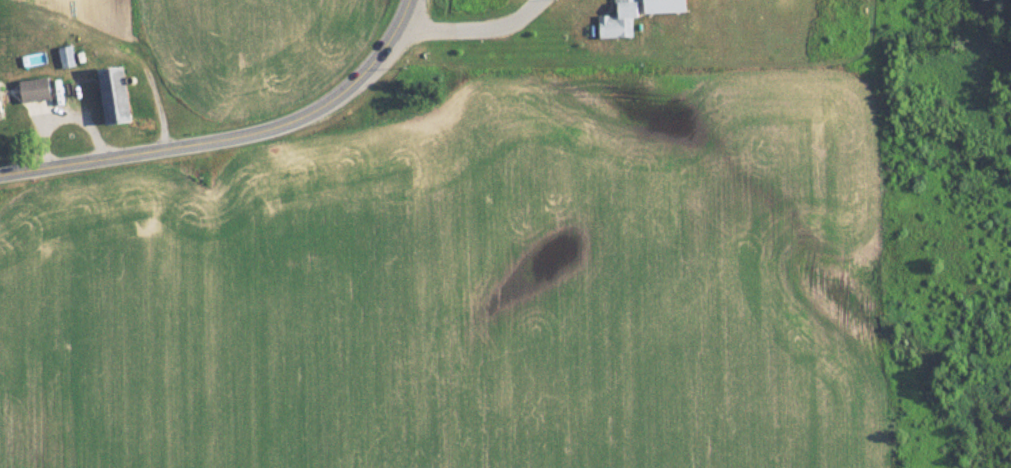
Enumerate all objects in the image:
road: (473, 28)
building: (69, 56)
building: (39, 90)
building: (121, 95)
road: (154, 96)
building: (3, 103)
road: (235, 139)
park: (945, 233)
crop: (214, 311)

